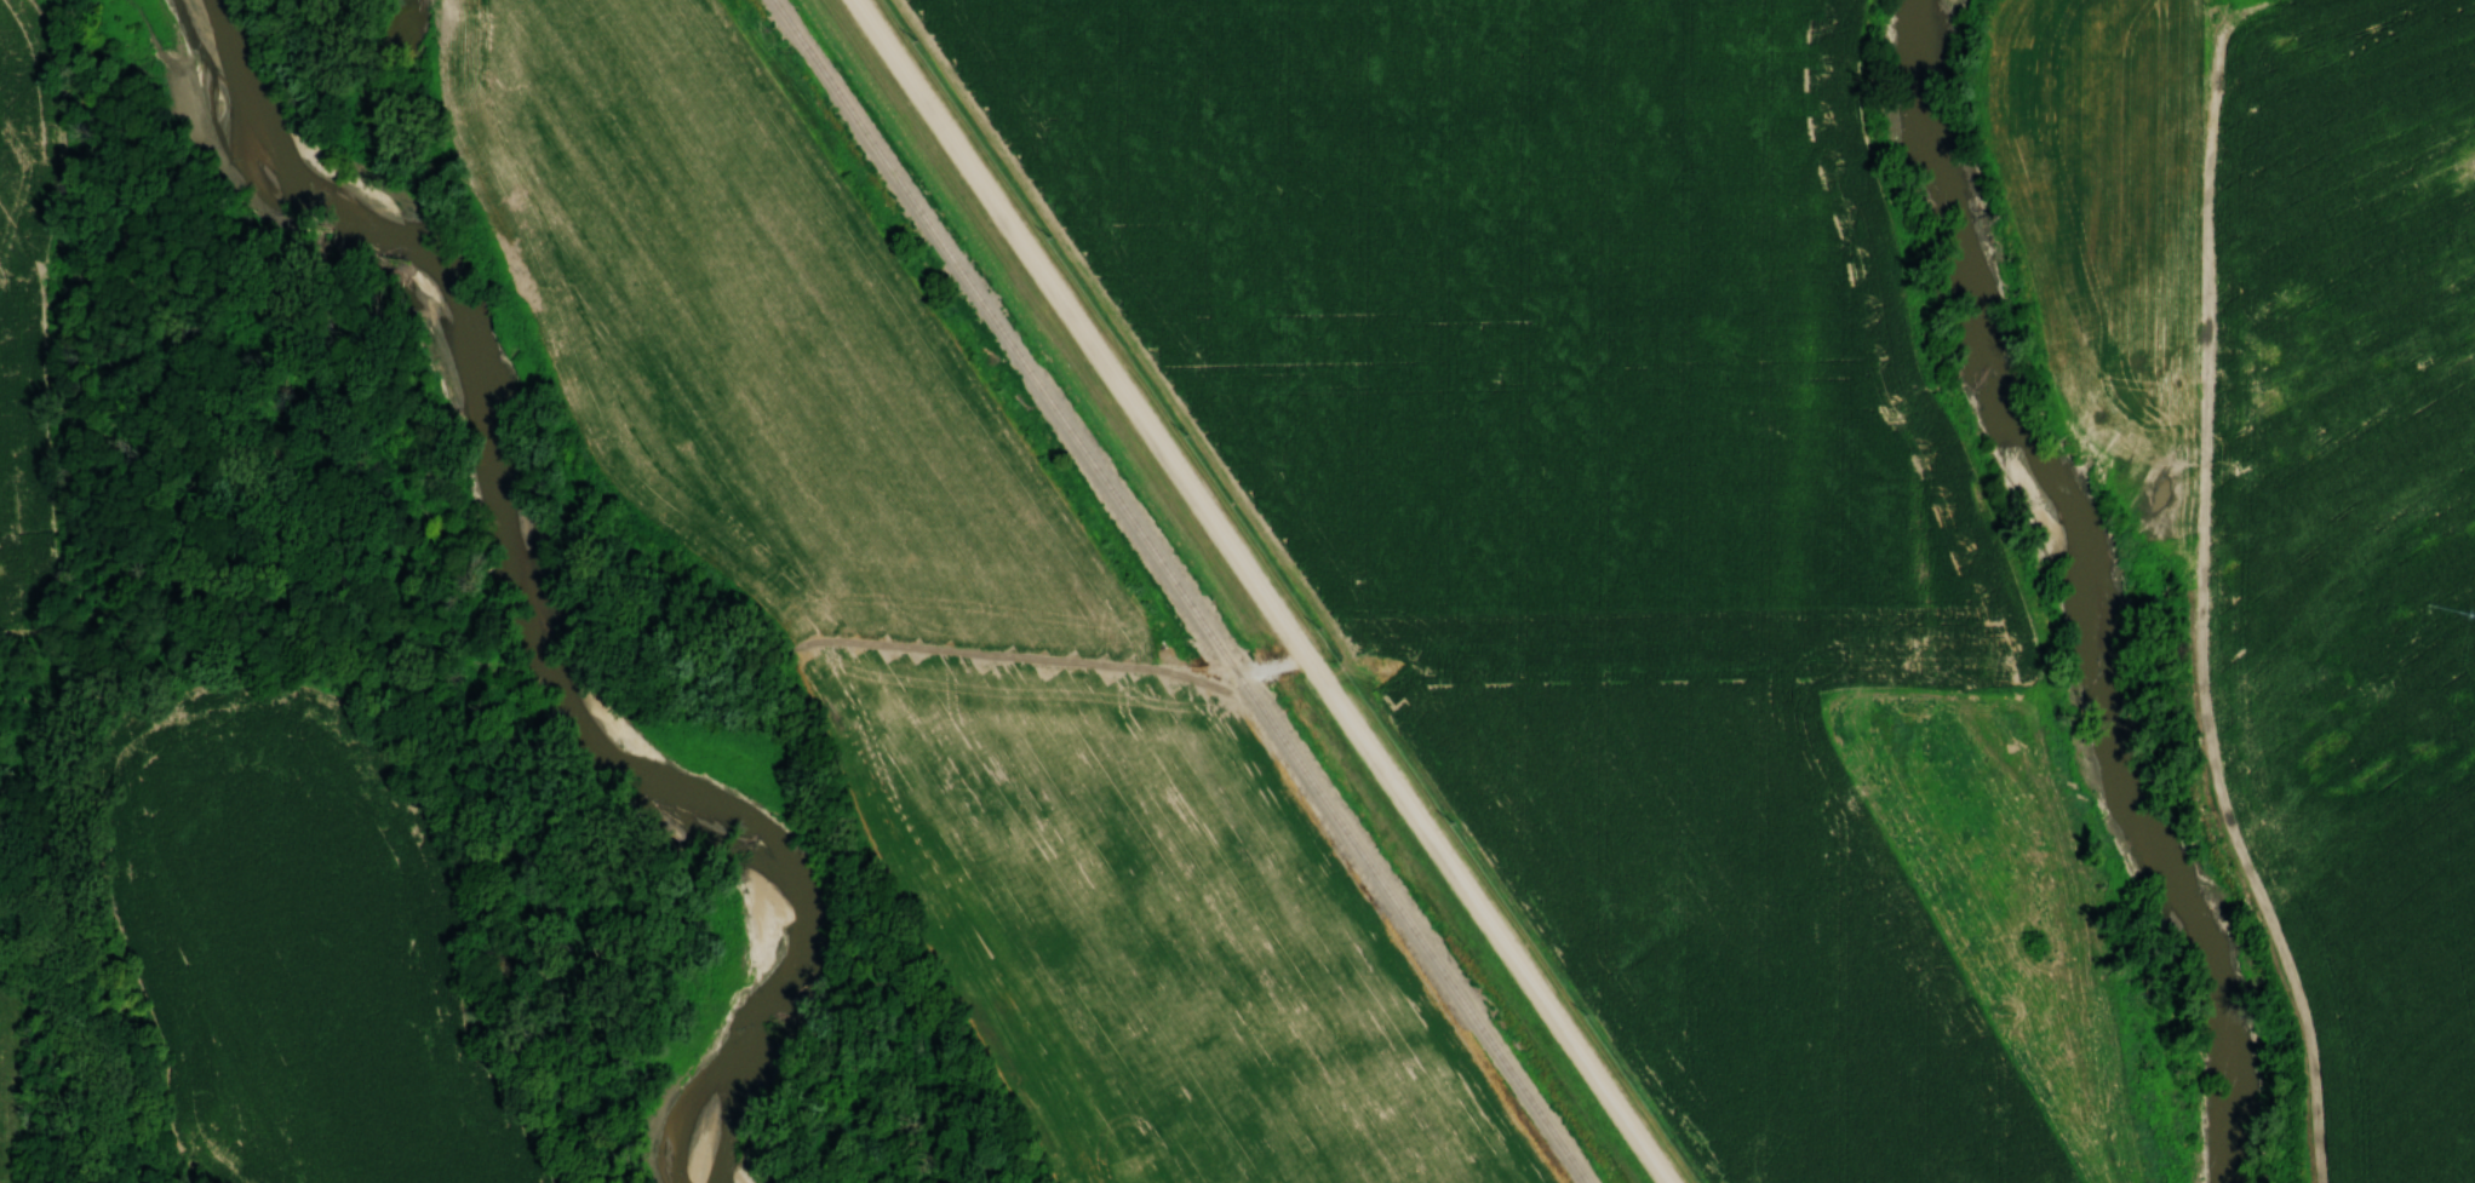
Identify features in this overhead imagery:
road: (1266, 590)
railway: (1175, 591)
road: (2314, 1108)

